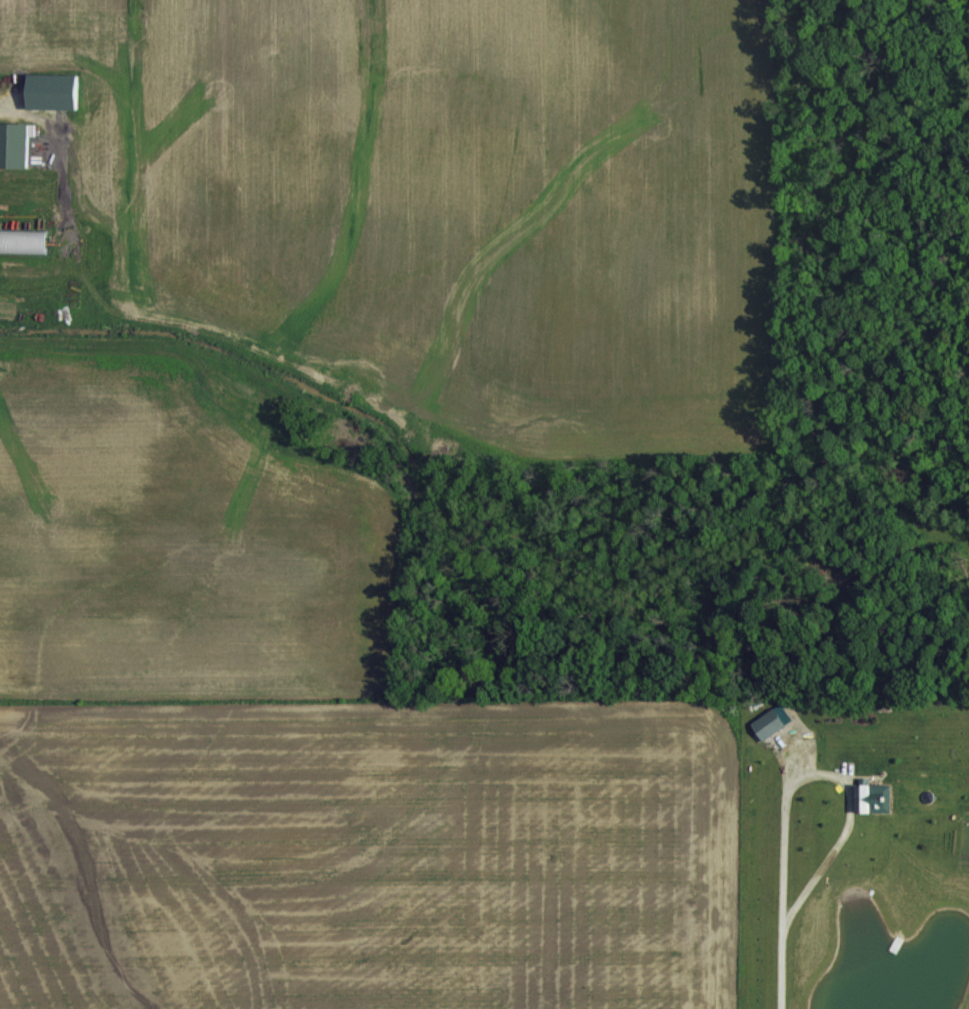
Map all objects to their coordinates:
building: (48, 90)
building: (13, 143)
building: (21, 240)
building: (766, 722)
road: (826, 771)
building: (870, 795)
road: (779, 966)

